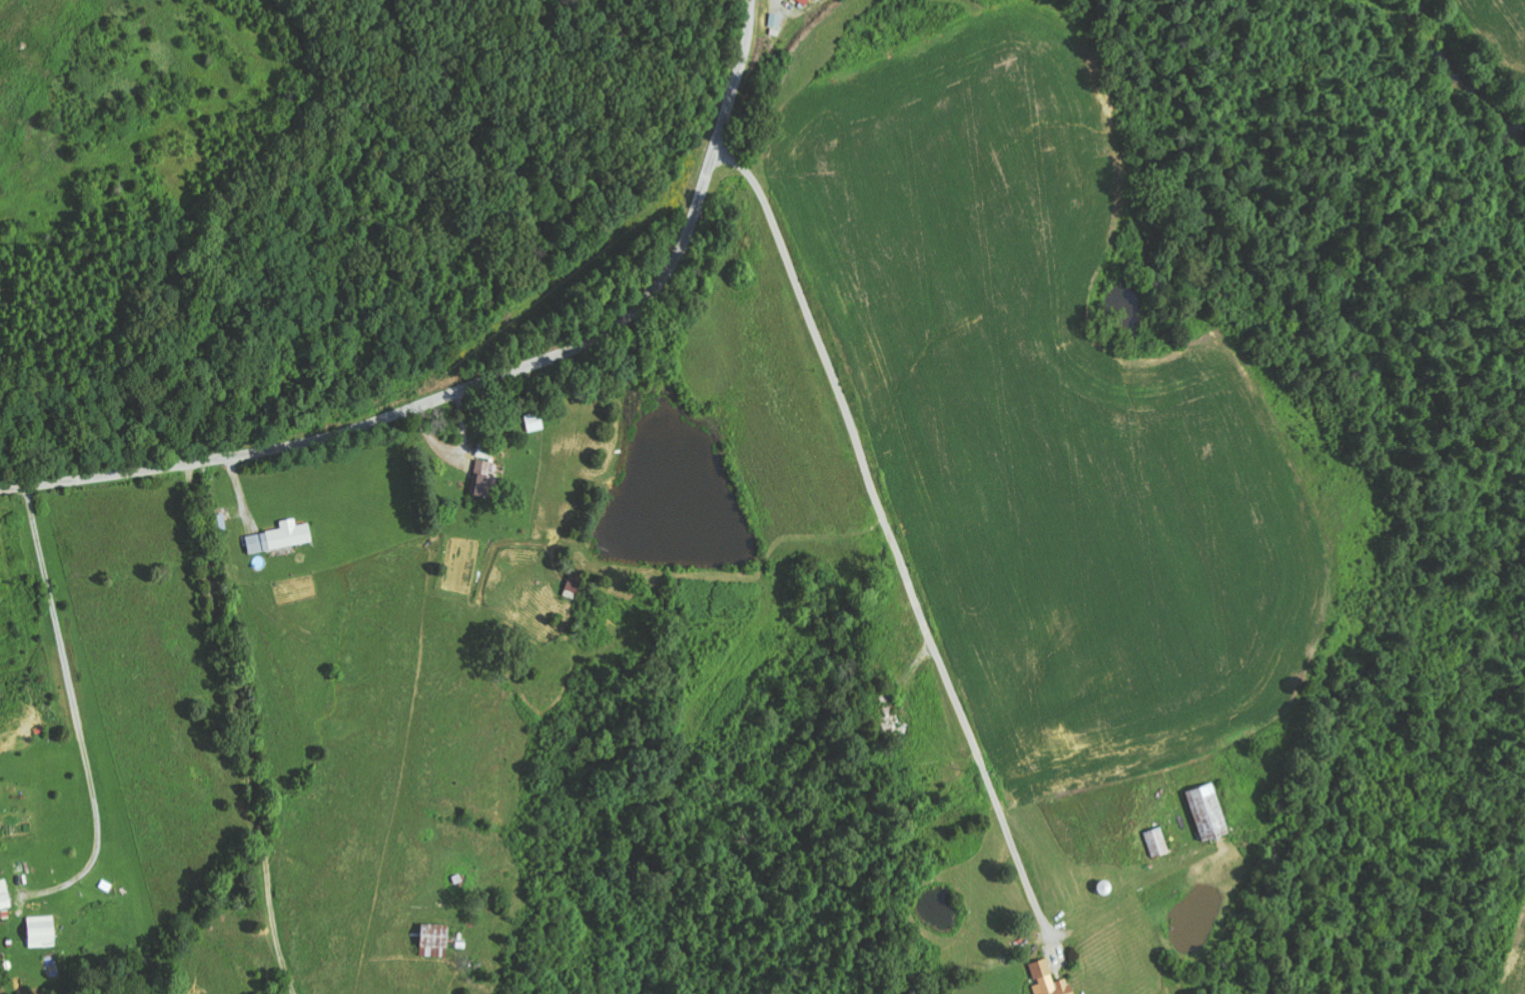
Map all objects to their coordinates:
building: (806, 1)
building: (775, 24)
road: (487, 381)
building: (485, 480)
road: (875, 523)
building: (282, 537)
road: (238, 730)
building: (1209, 813)
building: (1158, 843)
building: (0, 873)
building: (5, 896)
building: (437, 939)

